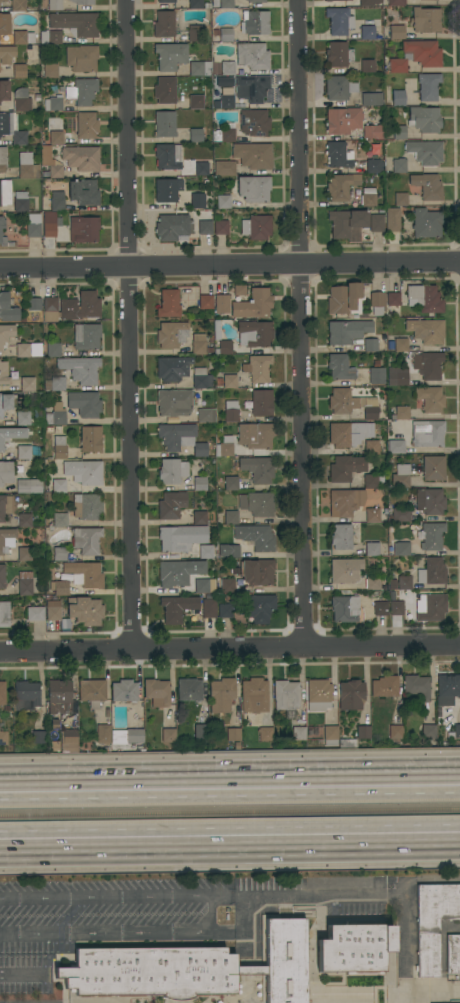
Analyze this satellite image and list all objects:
building: (3, 0)
building: (255, 0)
building: (334, 0)
building: (419, 0)
building: (165, 1)
building: (82, 2)
building: (366, 2)
building: (396, 2)
building: (196, 4)
building: (226, 4)
building: (18, 5)
building: (55, 5)
building: (339, 20)
building: (426, 20)
building: (255, 22)
building: (5, 23)
building: (76, 23)
building: (164, 24)
building: (396, 26)
building: (367, 32)
building: (195, 33)
building: (226, 34)
building: (23, 37)
building: (54, 37)
building: (424, 52)
building: (7, 54)
building: (338, 54)
building: (252, 55)
building: (170, 56)
building: (82, 57)
building: (397, 65)
building: (367, 66)
building: (200, 68)
building: (228, 68)
building: (50, 70)
building: (19, 71)
building: (428, 86)
building: (339, 87)
building: (252, 88)
building: (4, 90)
building: (165, 90)
building: (82, 91)
building: (398, 98)
building: (371, 99)
building: (22, 100)
building: (225, 101)
building: (196, 102)
building: (53, 104)
building: (424, 119)
building: (343, 120)
building: (254, 122)
building: (164, 124)
building: (86, 125)
building: (11, 129)
building: (373, 132)
building: (399, 132)
building: (227, 134)
building: (196, 135)
building: (56, 137)
building: (425, 152)
building: (253, 155)
building: (338, 155)
building: (168, 157)
building: (81, 158)
building: (3, 159)
building: (50, 162)
building: (399, 165)
building: (27, 166)
building: (375, 166)
building: (201, 168)
building: (225, 168)
building: (341, 186)
building: (427, 186)
building: (254, 188)
building: (167, 189)
building: (84, 191)
building: (5, 192)
building: (368, 197)
building: (198, 200)
building: (57, 201)
building: (223, 201)
building: (21, 202)
building: (395, 212)
building: (346, 222)
building: (377, 223)
building: (50, 224)
building: (429, 225)
building: (33, 226)
building: (173, 227)
building: (205, 227)
building: (221, 227)
building: (257, 227)
building: (83, 229)
building: (0, 230)
road: (229, 265)
building: (238, 290)
building: (344, 298)
building: (393, 298)
building: (424, 298)
building: (205, 301)
building: (377, 302)
building: (168, 303)
building: (221, 303)
building: (34, 304)
building: (253, 304)
building: (86, 305)
building: (50, 308)
building: (7, 309)
road: (302, 324)
road: (130, 326)
building: (426, 330)
building: (347, 331)
building: (254, 333)
building: (6, 334)
building: (171, 334)
building: (86, 336)
building: (198, 344)
building: (370, 344)
building: (401, 344)
building: (223, 347)
building: (28, 349)
building: (53, 349)
building: (428, 365)
building: (340, 367)
building: (173, 368)
building: (257, 368)
building: (80, 369)
building: (4, 373)
building: (377, 375)
building: (201, 378)
building: (398, 378)
building: (229, 381)
building: (55, 383)
building: (28, 384)
building: (430, 398)
building: (11, 401)
building: (343, 401)
building: (174, 402)
building: (84, 403)
building: (261, 403)
building: (370, 408)
building: (231, 411)
building: (400, 413)
building: (56, 415)
building: (206, 415)
building: (24, 418)
building: (349, 433)
building: (427, 434)
building: (10, 435)
building: (255, 435)
building: (176, 436)
building: (91, 439)
building: (396, 446)
building: (372, 447)
building: (226, 448)
building: (63, 449)
building: (200, 449)
building: (24, 452)
building: (346, 467)
building: (433, 468)
building: (257, 469)
building: (172, 471)
building: (5, 472)
building: (83, 472)
building: (401, 476)
building: (373, 480)
building: (200, 483)
building: (231, 483)
building: (29, 486)
building: (58, 486)
building: (430, 501)
building: (345, 502)
building: (258, 503)
building: (171, 505)
building: (5, 506)
building: (87, 506)
building: (400, 514)
building: (373, 515)
building: (200, 517)
building: (231, 517)
building: (24, 520)
building: (60, 520)
building: (432, 535)
building: (181, 537)
building: (255, 537)
building: (341, 537)
building: (6, 540)
building: (86, 540)
building: (401, 548)
building: (372, 549)
building: (229, 550)
building: (206, 551)
building: (24, 554)
building: (59, 554)
building: (345, 570)
building: (257, 572)
building: (432, 572)
building: (176, 573)
building: (85, 574)
building: (2, 576)
building: (25, 583)
building: (373, 583)
building: (404, 583)
building: (227, 585)
building: (201, 586)
building: (59, 587)
building: (378, 603)
building: (177, 607)
building: (431, 607)
building: (209, 608)
building: (258, 608)
building: (345, 608)
building: (397, 608)
building: (85, 610)
building: (225, 610)
building: (35, 613)
building: (4, 614)
building: (56, 614)
road: (230, 650)
building: (385, 686)
building: (417, 686)
building: (189, 689)
building: (447, 689)
building: (124, 690)
building: (92, 692)
building: (157, 692)
building: (2, 693)
building: (286, 694)
building: (26, 695)
building: (59, 695)
building: (221, 695)
building: (254, 695)
building: (319, 695)
building: (351, 695)
building: (428, 731)
building: (457, 731)
building: (363, 732)
building: (396, 732)
building: (201, 733)
building: (265, 733)
building: (298, 733)
building: (103, 734)
building: (233, 734)
building: (168, 735)
building: (330, 735)
building: (70, 736)
building: (127, 736)
building: (37, 737)
building: (3, 738)
building: (347, 743)
building: (52, 746)
road: (230, 778)
road: (230, 795)
railway: (230, 812)
road: (230, 825)
road: (230, 849)
building: (339, 882)
road: (361, 893)
road: (212, 911)
building: (433, 923)
building: (354, 948)
building: (453, 953)
building: (282, 959)
road: (22, 974)
road: (432, 991)
building: (39, 994)
building: (78, 994)
building: (128, 994)
building: (177, 994)
building: (227, 994)
road: (329, 995)

